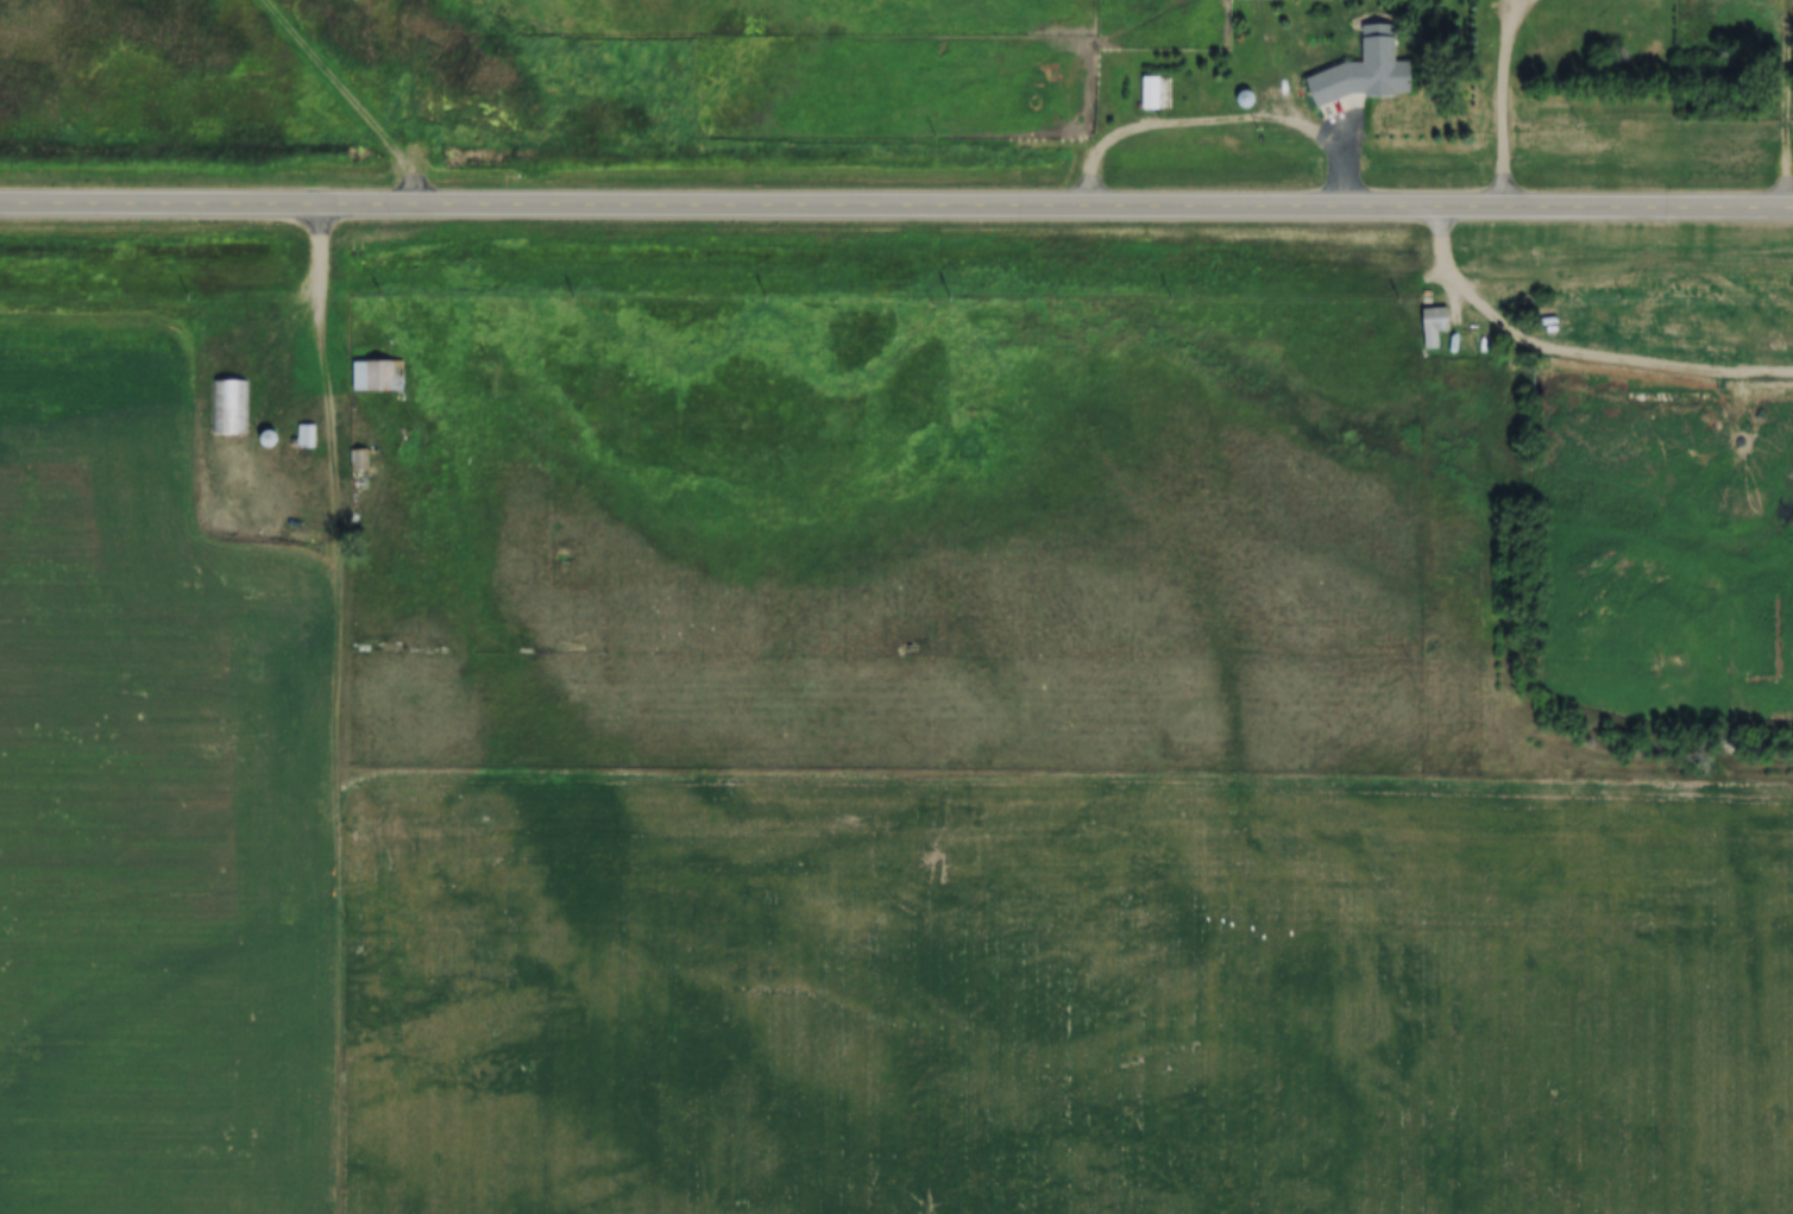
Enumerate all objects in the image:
building: (1359, 71)
building: (1149, 94)
building: (1245, 99)
silo: (1245, 99)
road: (1509, 101)
road: (1789, 105)
road: (1219, 119)
road: (896, 209)
road: (335, 322)
building: (1430, 326)
road: (1580, 351)
building: (375, 376)
building: (228, 408)
building: (303, 436)
building: (268, 439)
silo: (268, 439)
building: (357, 460)

